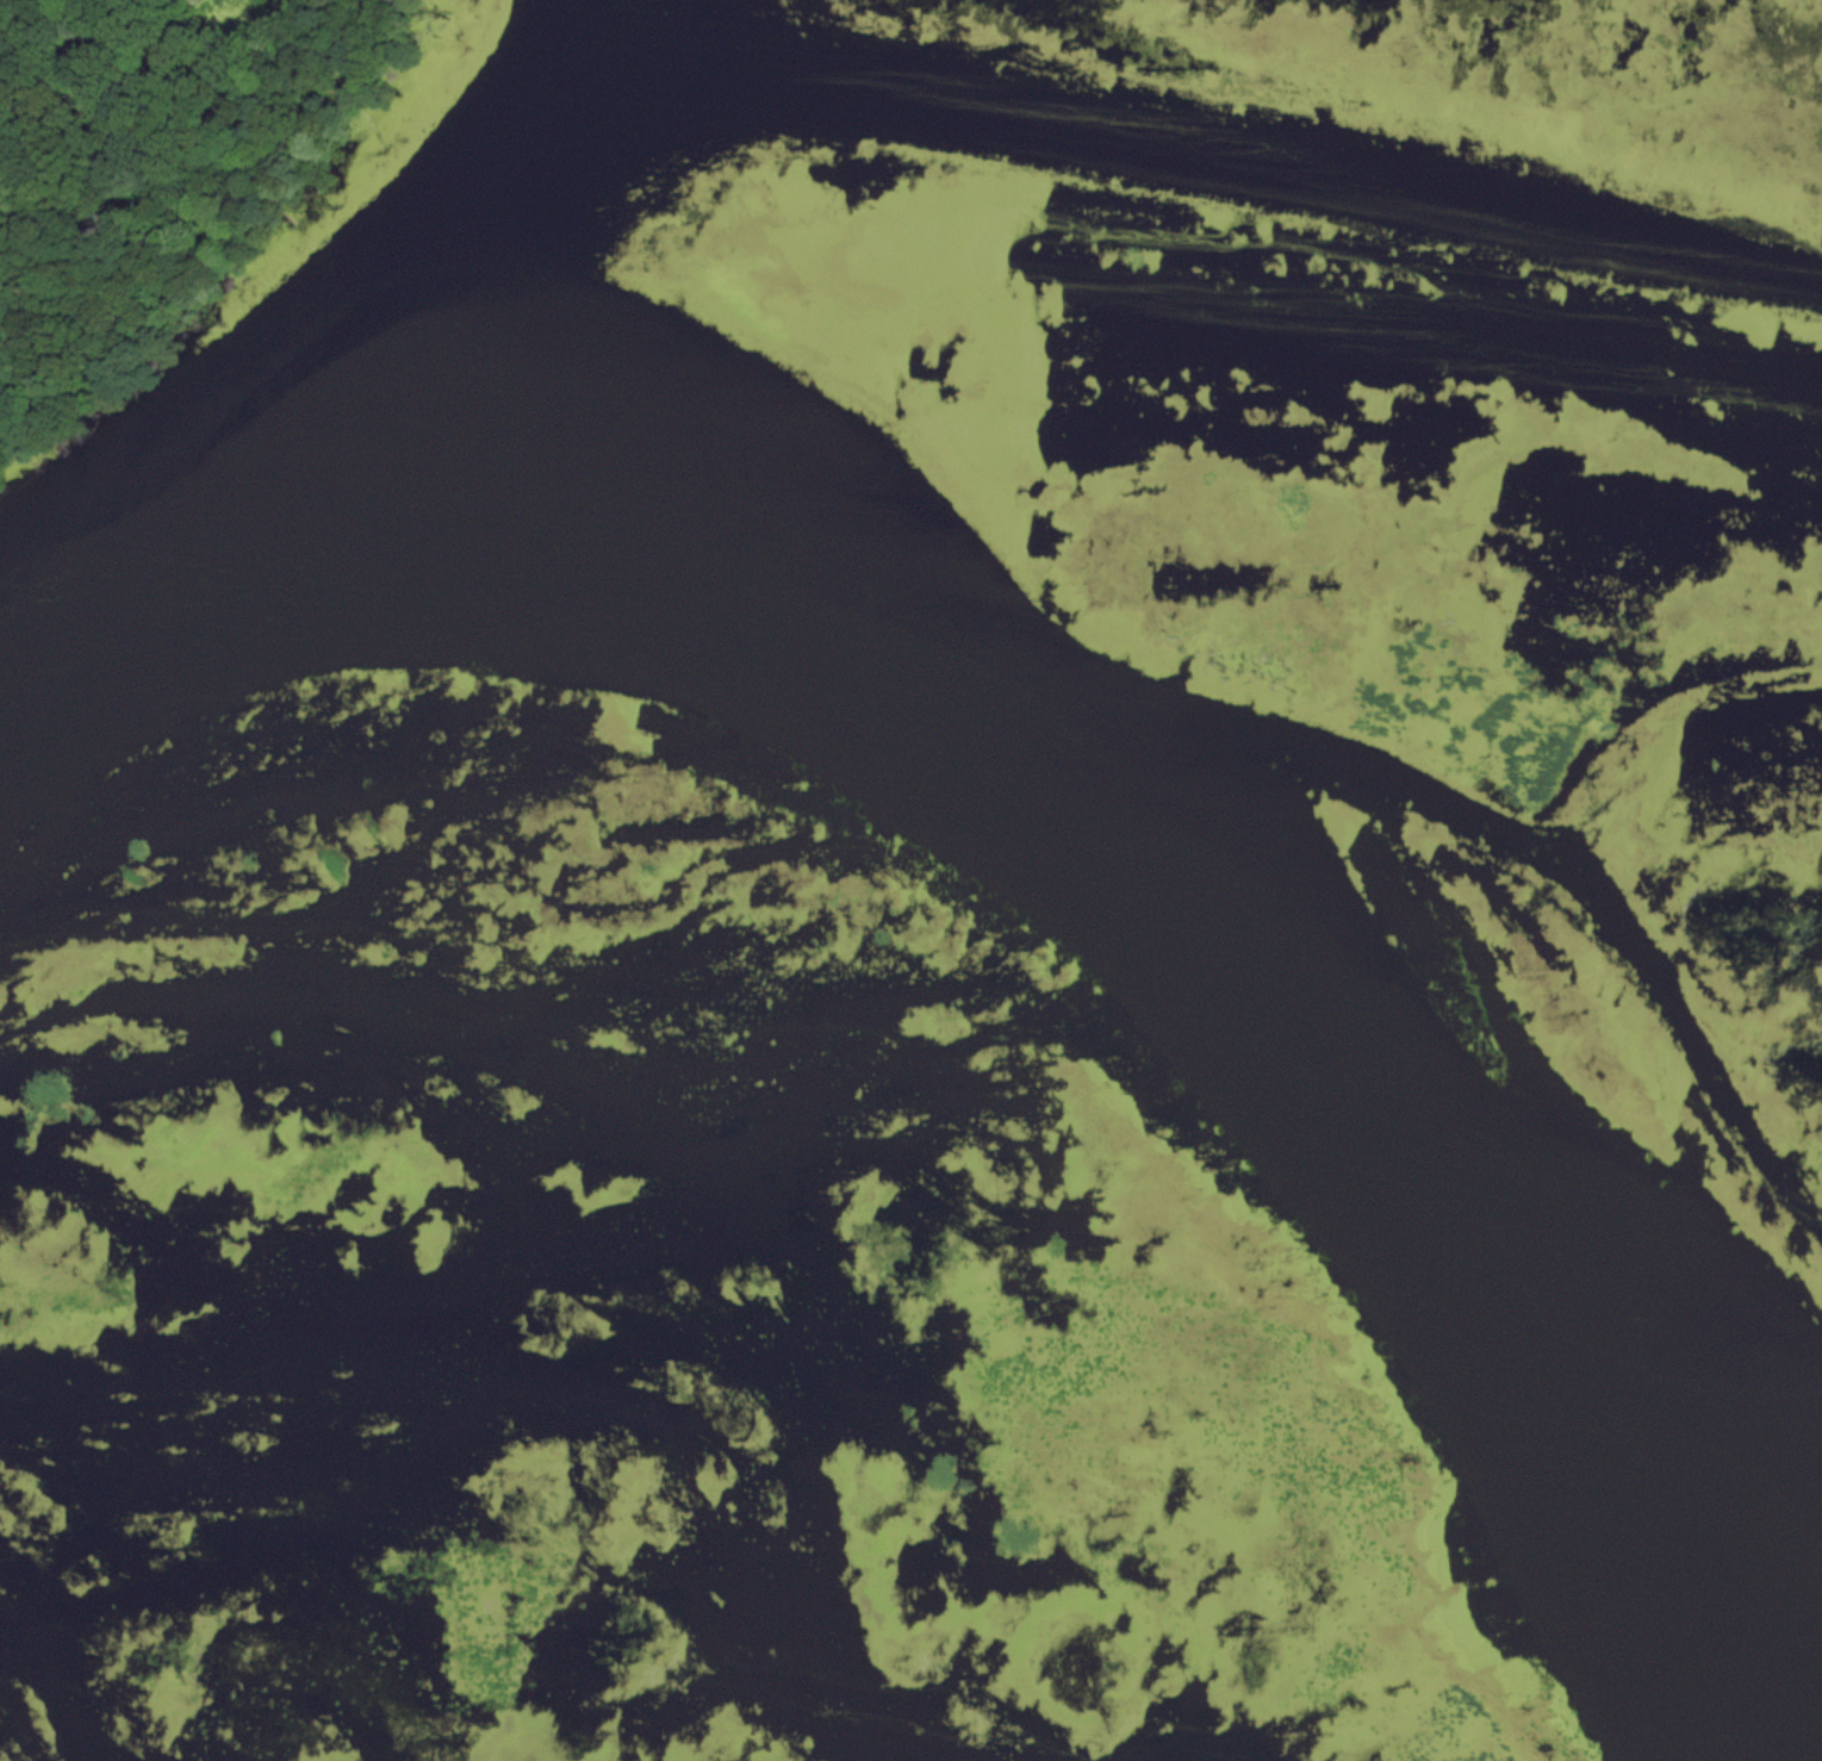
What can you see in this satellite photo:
park: (149, 162)
river: (1109, 785)

